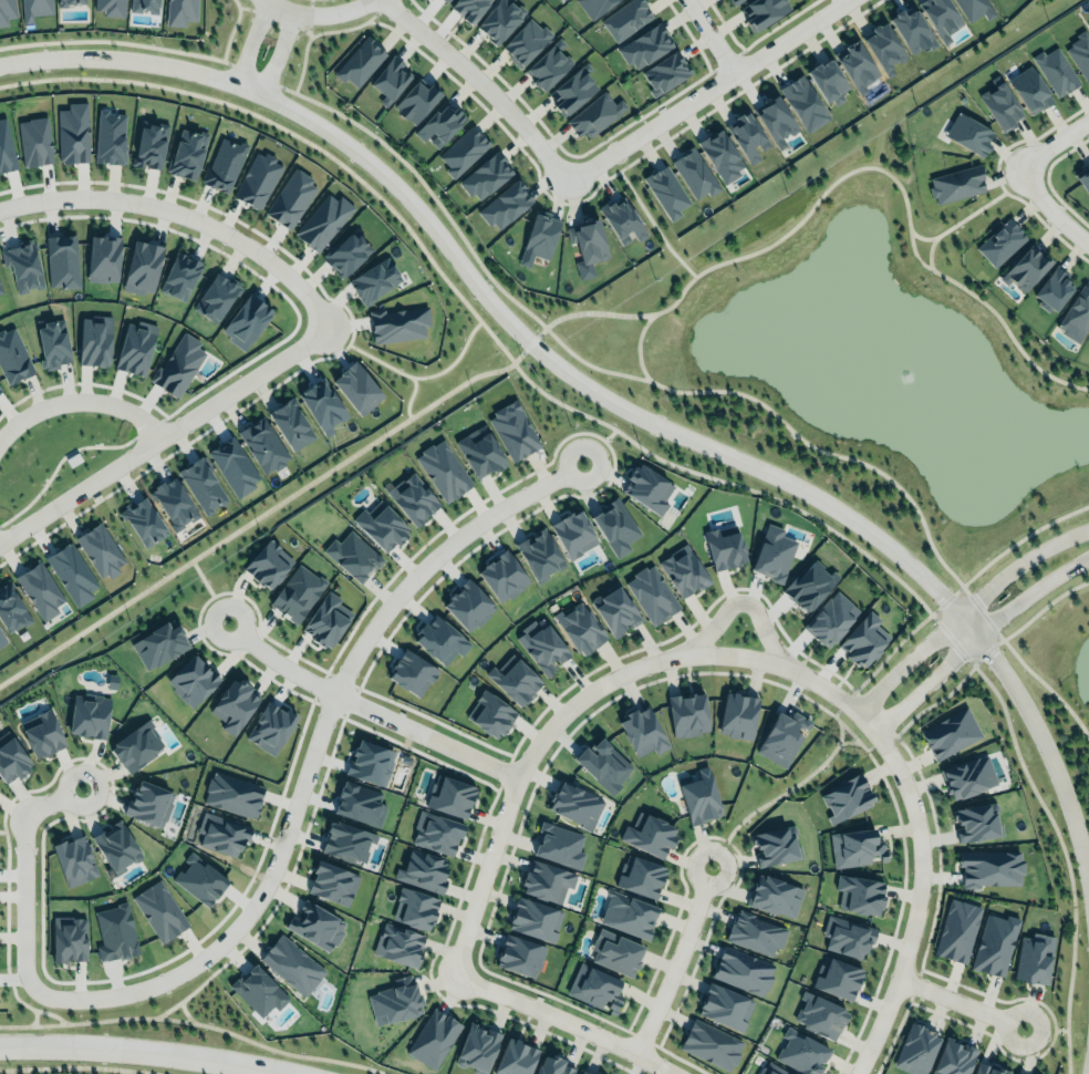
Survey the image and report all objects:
building: (560, 0)
building: (442, 1)
building: (732, 1)
building: (71, 2)
building: (144, 6)
building: (593, 6)
building: (108, 7)
building: (34, 9)
building: (469, 9)
building: (974, 9)
building: (760, 10)
building: (7, 11)
building: (180, 11)
road: (317, 13)
building: (940, 18)
building: (498, 19)
building: (625, 19)
building: (1088, 23)
building: (911, 27)
road: (711, 35)
building: (525, 39)
road: (250, 42)
building: (644, 47)
building: (883, 48)
road: (278, 53)
building: (1079, 53)
building: (357, 61)
building: (548, 65)
building: (855, 65)
building: (1054, 70)
building: (664, 71)
building: (388, 78)
building: (828, 81)
road: (481, 84)
building: (571, 89)
building: (1029, 90)
road: (706, 91)
building: (415, 99)
building: (802, 102)
building: (1000, 104)
building: (593, 113)
building: (775, 121)
building: (438, 124)
building: (71, 132)
building: (968, 133)
building: (107, 136)
building: (747, 136)
building: (33, 140)
building: (149, 145)
road: (1054, 147)
building: (7, 148)
building: (461, 151)
building: (184, 153)
building: (720, 155)
building: (224, 164)
building: (694, 173)
building: (485, 176)
building: (1083, 179)
building: (255, 180)
building: (956, 183)
building: (665, 192)
building: (290, 196)
building: (504, 203)
road: (1049, 213)
road: (178, 214)
building: (620, 217)
building: (320, 219)
building: (539, 238)
building: (1000, 242)
building: (587, 245)
building: (344, 252)
building: (103, 258)
building: (60, 259)
building: (22, 265)
building: (139, 266)
building: (1025, 267)
building: (179, 276)
building: (373, 278)
building: (1052, 289)
building: (0, 290)
building: (215, 297)
building: (1076, 316)
building: (246, 319)
building: (395, 322)
building: (92, 340)
building: (1088, 341)
building: (50, 343)
building: (134, 347)
building: (12, 357)
building: (178, 364)
fountain: (902, 368)
building: (0, 388)
building: (356, 388)
road: (598, 393)
road: (77, 400)
building: (322, 406)
building: (290, 424)
road: (162, 431)
building: (514, 431)
building: (261, 443)
building: (480, 448)
building: (232, 464)
building: (443, 467)
building: (200, 484)
building: (645, 486)
building: (413, 497)
building: (174, 500)
building: (143, 519)
building: (381, 525)
building: (613, 525)
building: (572, 531)
building: (723, 546)
building: (97, 549)
building: (771, 550)
building: (350, 554)
building: (539, 554)
building: (268, 564)
building: (682, 567)
building: (71, 572)
building: (502, 576)
building: (809, 586)
building: (39, 590)
building: (297, 592)
building: (652, 593)
road: (739, 602)
building: (468, 603)
building: (615, 607)
road: (964, 607)
building: (11, 609)
building: (830, 619)
building: (326, 620)
building: (578, 626)
building: (439, 634)
road: (979, 638)
building: (1, 639)
building: (863, 640)
building: (158, 642)
building: (542, 646)
road: (760, 658)
building: (412, 669)
building: (514, 677)
building: (191, 680)
building: (234, 705)
road: (363, 708)
building: (489, 710)
building: (686, 712)
building: (89, 715)
building: (737, 715)
building: (270, 727)
building: (642, 731)
building: (948, 731)
building: (43, 732)
building: (782, 736)
building: (135, 743)
road: (861, 743)
building: (10, 755)
road: (303, 755)
building: (370, 762)
building: (603, 764)
building: (967, 775)
road: (788, 788)
building: (450, 792)
building: (232, 794)
building: (698, 795)
building: (846, 797)
building: (146, 801)
building: (573, 802)
building: (359, 804)
building: (975, 823)
building: (436, 833)
building: (221, 834)
building: (647, 834)
building: (348, 841)
building: (559, 843)
building: (115, 845)
building: (774, 845)
building: (855, 847)
building: (75, 860)
building: (989, 867)
building: (422, 870)
road: (13, 875)
building: (640, 875)
building: (199, 877)
building: (331, 881)
building: (546, 881)
building: (775, 894)
building: (860, 895)
building: (414, 907)
building: (159, 910)
building: (630, 913)
building: (536, 918)
building: (315, 925)
building: (956, 930)
building: (755, 931)
building: (115, 932)
building: (846, 936)
building: (69, 938)
building: (397, 943)
building: (994, 943)
building: (614, 949)
building: (519, 953)
building: (1034, 958)
road: (673, 960)
building: (291, 961)
building: (741, 969)
building: (837, 978)
building: (593, 984)
building: (257, 988)
building: (395, 998)
road: (960, 1002)
building: (725, 1006)
building: (819, 1015)
road: (568, 1020)
road: (1055, 1030)
building: (431, 1036)
building: (478, 1044)
building: (711, 1044)
building: (915, 1050)
road: (148, 1051)
building: (801, 1052)
building: (515, 1057)
building: (953, 1057)
building: (552, 1065)
building: (771, 1068)
building: (987, 1068)
building: (584, 1072)
building: (1020, 1072)
building: (594, 1073)
building: (1013, 1073)

